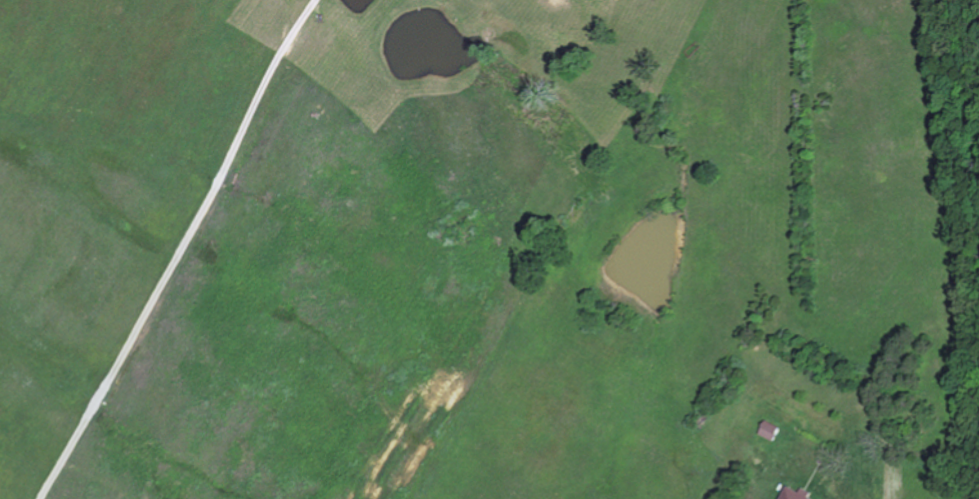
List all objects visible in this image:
road: (184, 250)
building: (771, 432)
building: (799, 494)

